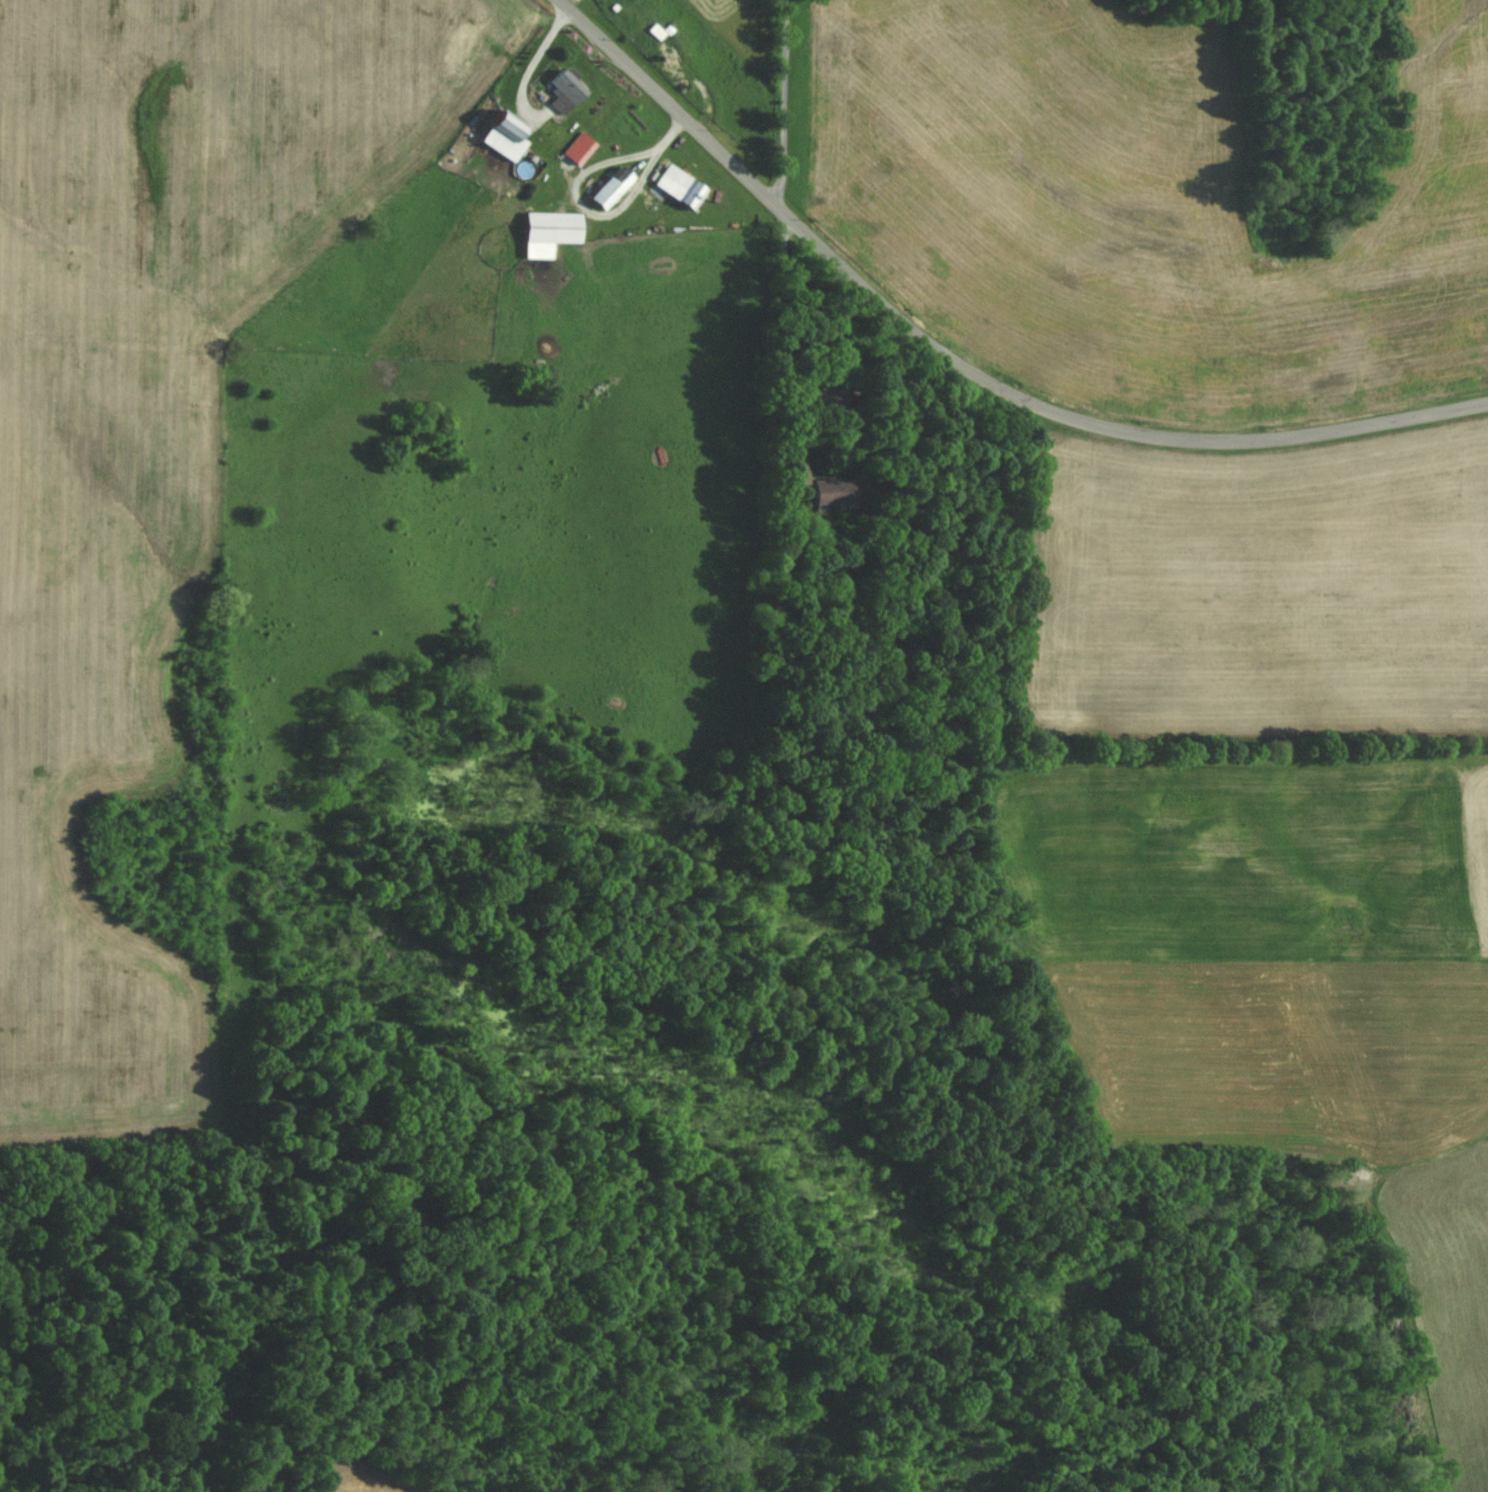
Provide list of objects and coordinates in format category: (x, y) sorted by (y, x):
building: (637, 26)
road: (531, 62)
building: (564, 92)
road: (787, 101)
building: (503, 136)
building: (582, 152)
building: (680, 187)
building: (611, 188)
building: (549, 233)
road: (810, 323)
road: (960, 367)
building: (832, 390)
building: (795, 449)
building: (798, 474)
building: (833, 492)

